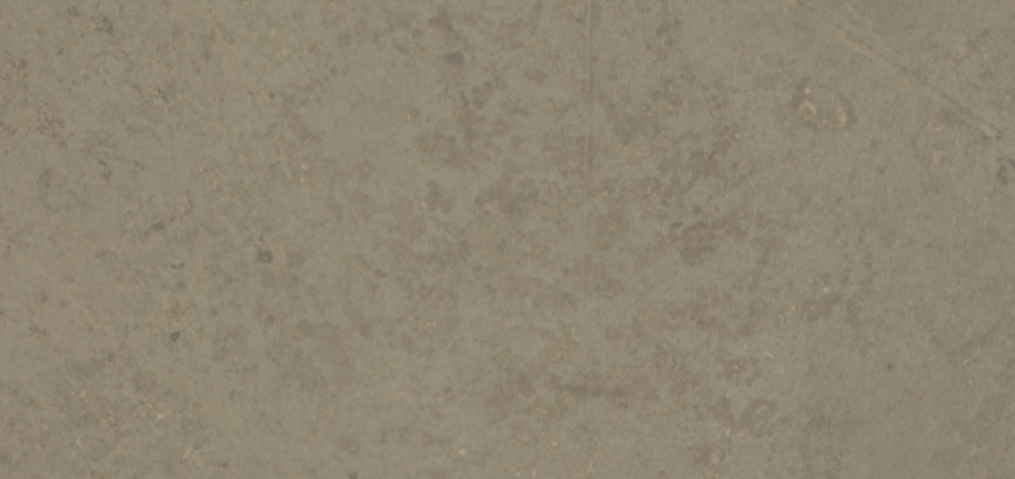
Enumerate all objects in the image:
road: (936, 72)

